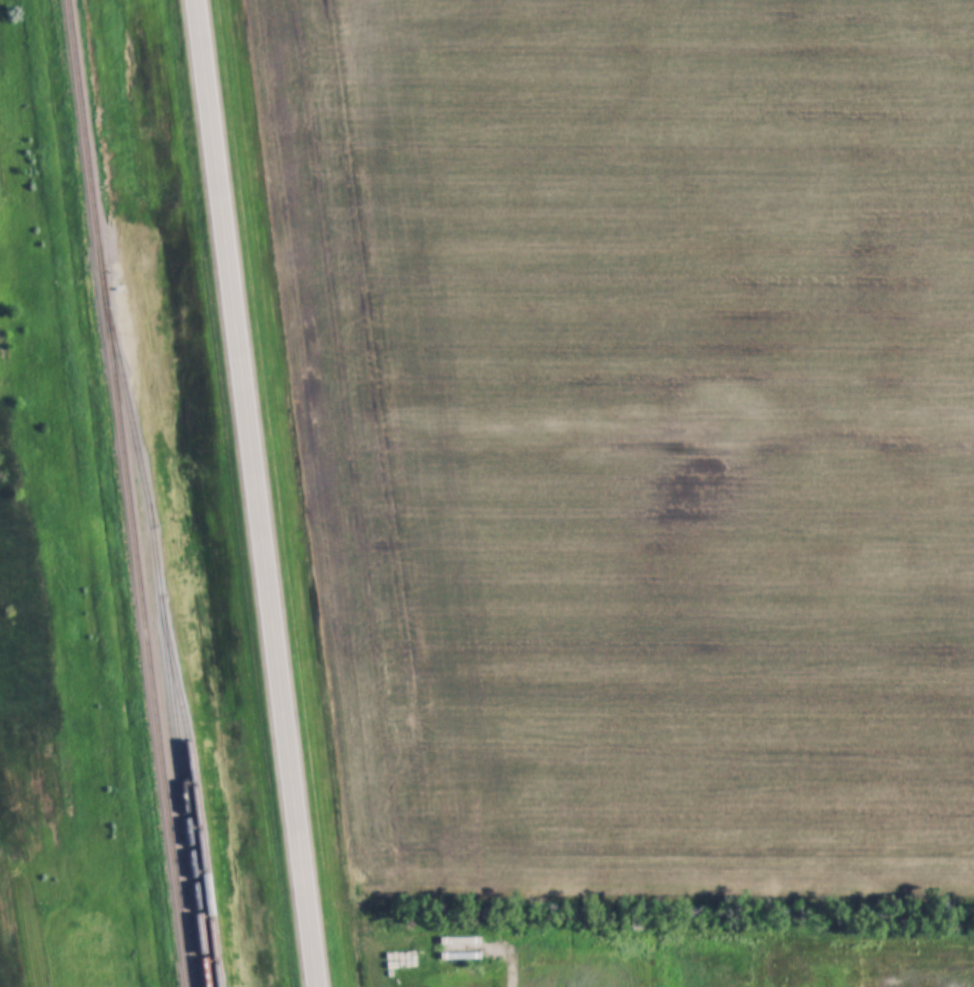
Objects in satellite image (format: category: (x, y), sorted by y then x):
crop: (634, 437)
railway: (125, 493)
road: (255, 493)
railway: (161, 632)
railway: (193, 791)

